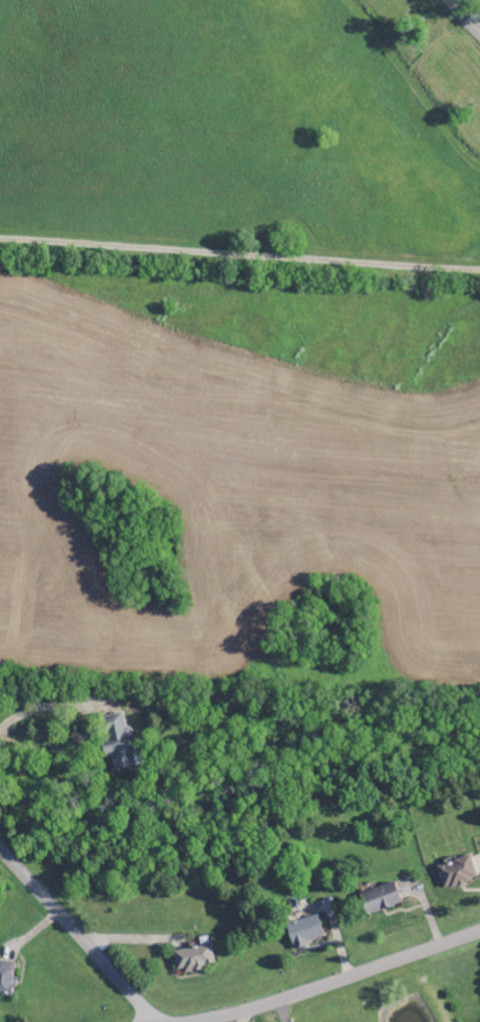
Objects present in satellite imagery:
road: (465, 16)
road: (239, 255)
building: (118, 741)
building: (456, 873)
building: (380, 899)
building: (305, 932)
road: (77, 935)
building: (194, 959)
building: (6, 980)
road: (344, 980)
road: (281, 1012)

